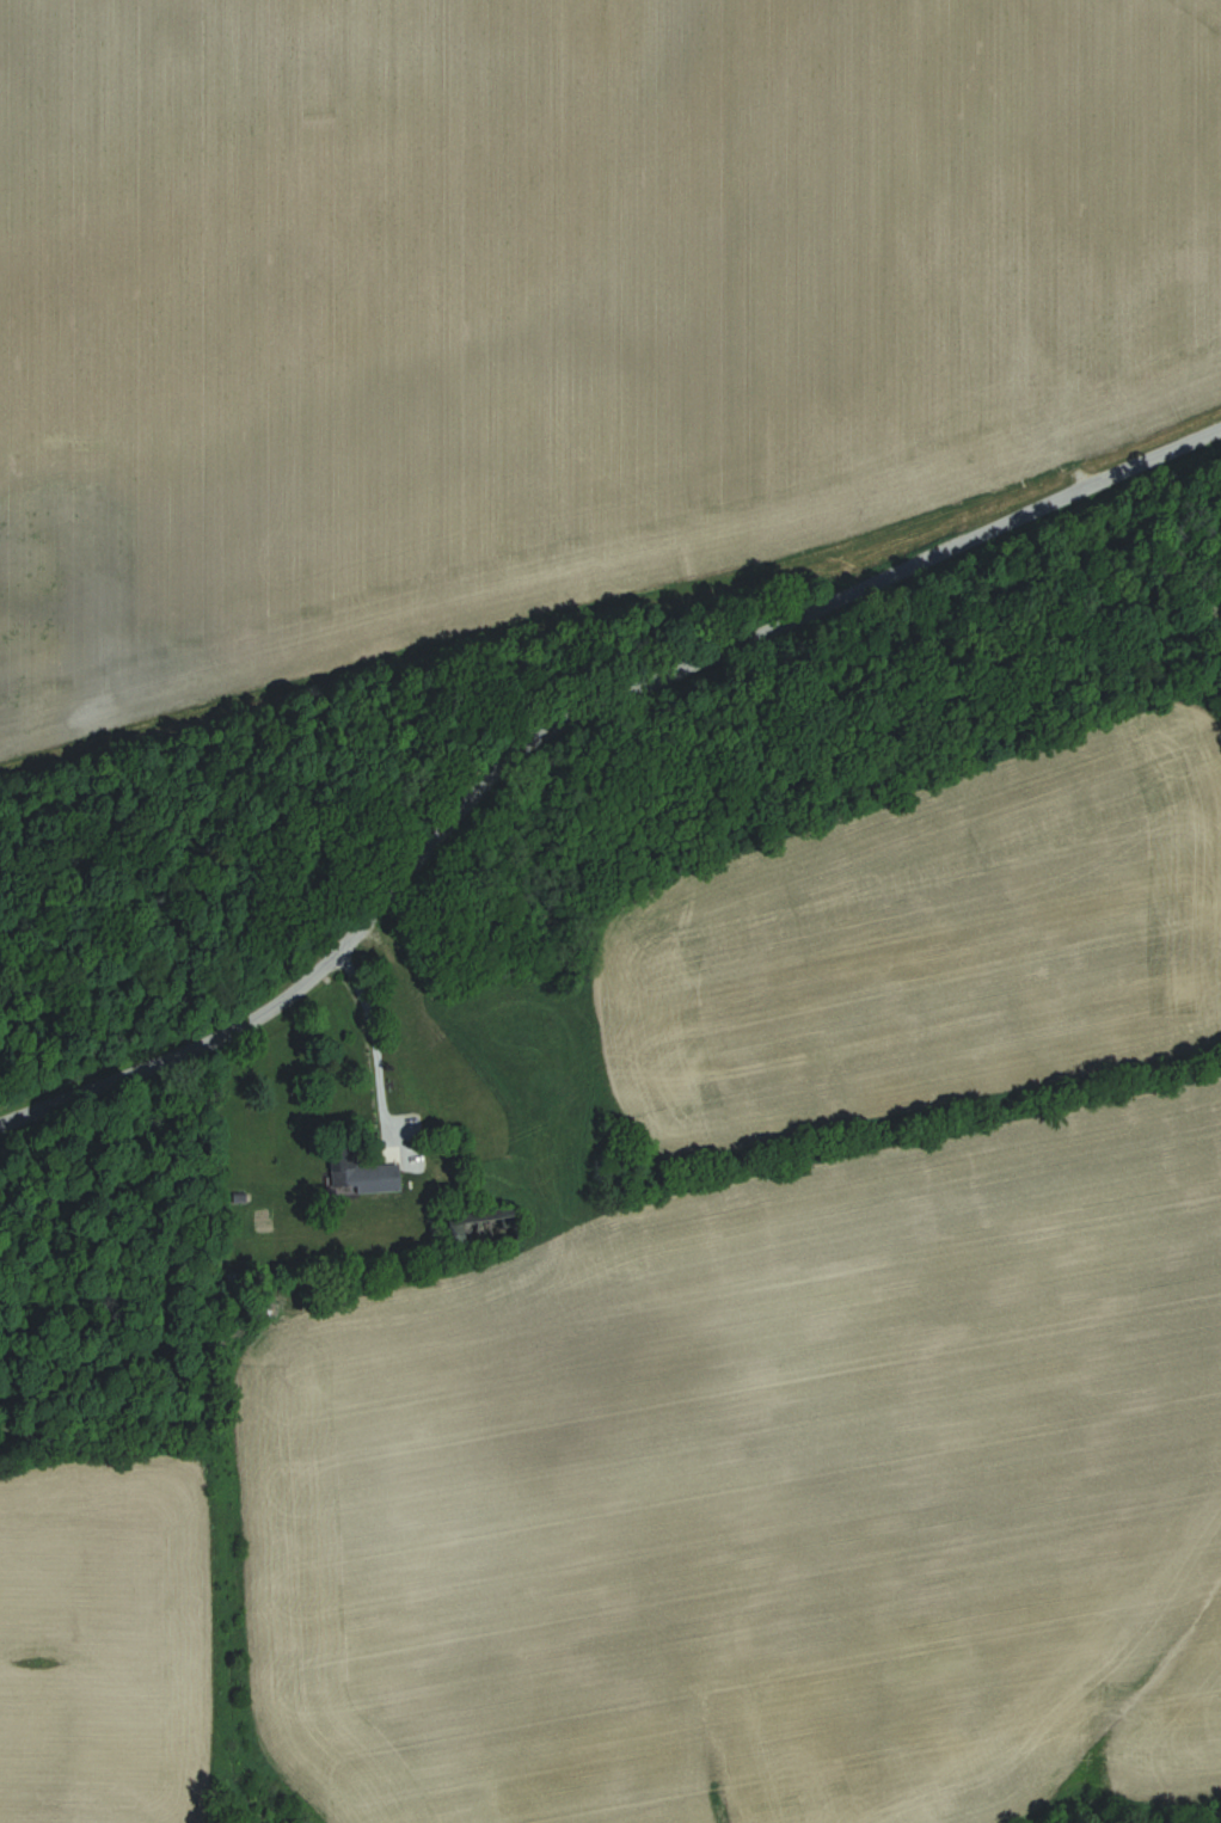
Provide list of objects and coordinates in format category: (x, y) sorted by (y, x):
crop: (551, 305)
road: (566, 723)
road: (373, 1037)
building: (367, 1176)
building: (487, 1220)

